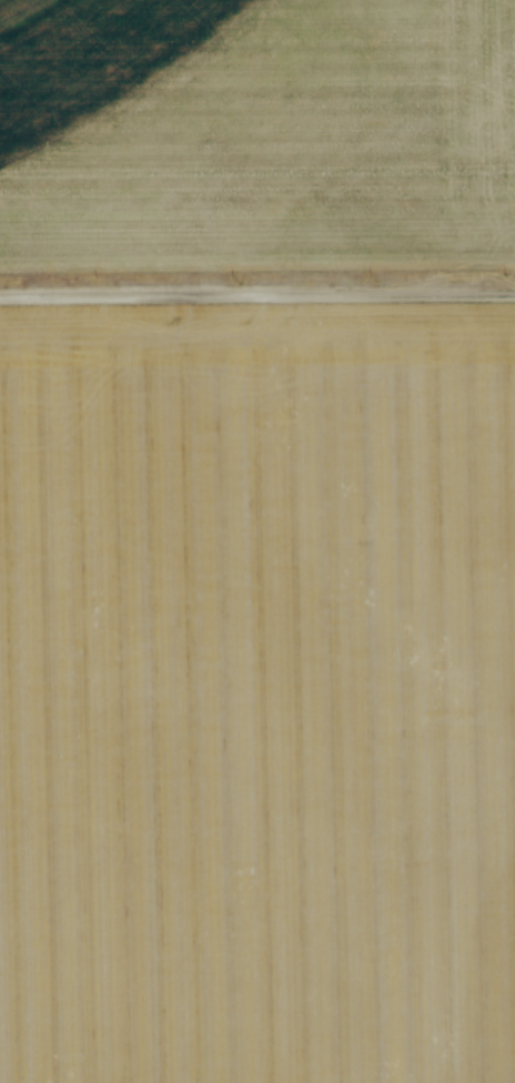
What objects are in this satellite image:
road: (257, 298)
crop: (257, 692)

